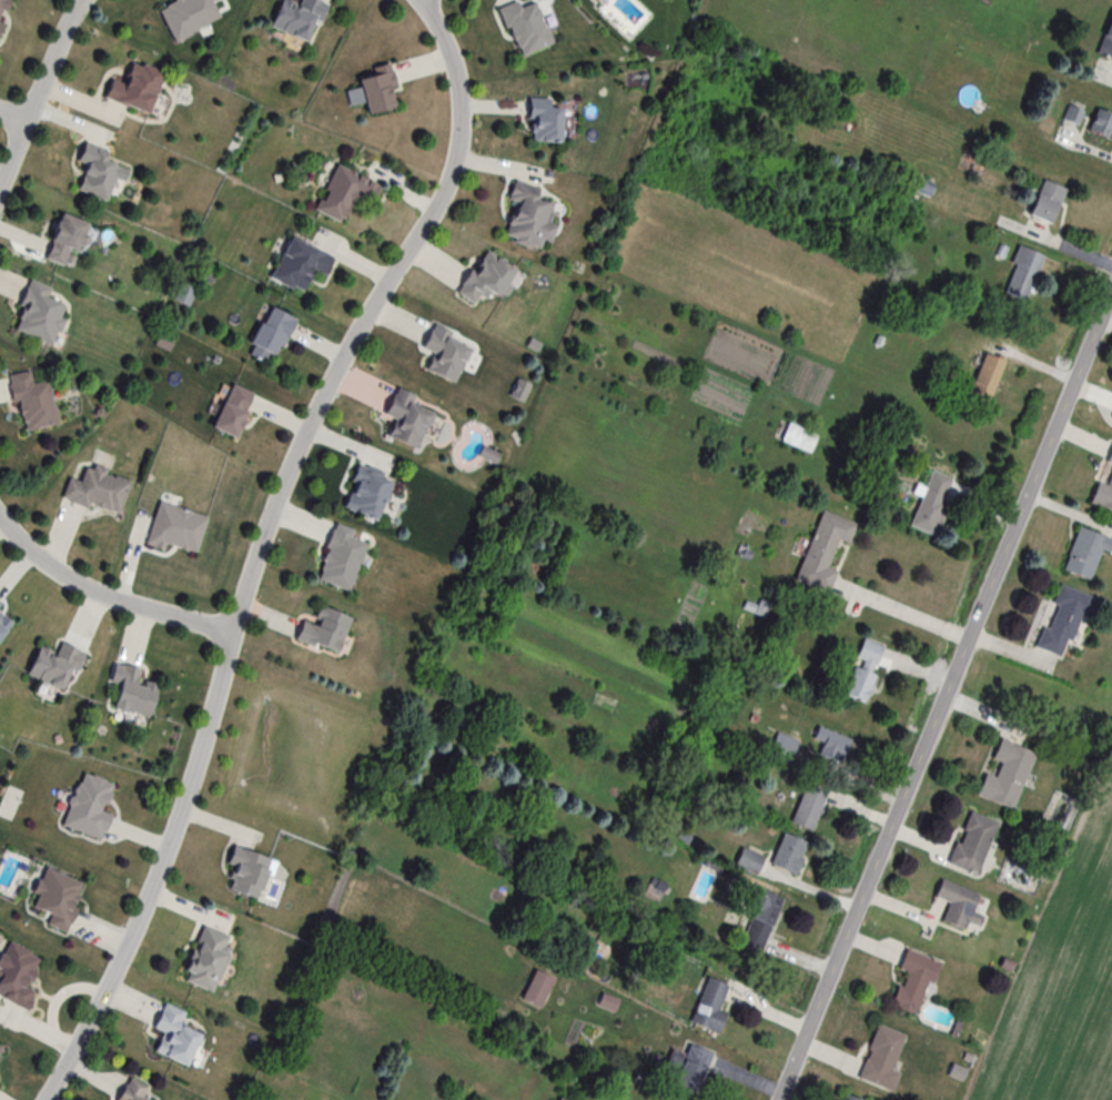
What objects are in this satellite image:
building: (2, 10)
building: (189, 16)
building: (299, 18)
building: (526, 27)
building: (1106, 44)
building: (138, 88)
building: (380, 91)
road: (39, 92)
building: (1073, 114)
road: (13, 115)
building: (546, 120)
building: (1102, 123)
building: (101, 173)
building: (926, 185)
building: (344, 193)
building: (1048, 201)
building: (532, 219)
building: (68, 241)
building: (303, 262)
building: (1022, 273)
building: (488, 277)
building: (184, 294)
building: (42, 314)
building: (272, 336)
building: (447, 353)
building: (987, 376)
building: (34, 402)
building: (234, 412)
building: (410, 417)
building: (799, 437)
building: (1110, 458)
building: (100, 490)
building: (367, 493)
building: (1103, 495)
building: (932, 502)
building: (178, 528)
road: (261, 542)
building: (825, 552)
building: (1086, 553)
building: (343, 557)
road: (105, 595)
building: (0, 603)
road: (906, 614)
building: (1064, 622)
building: (4, 625)
building: (325, 628)
building: (55, 665)
building: (863, 670)
building: (134, 690)
road: (947, 694)
building: (831, 745)
building: (782, 748)
building: (1008, 775)
building: (90, 807)
building: (809, 807)
building: (973, 842)
building: (789, 854)
building: (748, 859)
building: (250, 872)
building: (58, 897)
building: (963, 906)
building: (761, 921)
building: (210, 955)
building: (17, 975)
building: (914, 981)
building: (538, 988)
building: (710, 1006)
building: (176, 1036)
building: (1, 1051)
building: (883, 1058)
building: (691, 1068)
building: (139, 1092)
building: (848, 1098)

